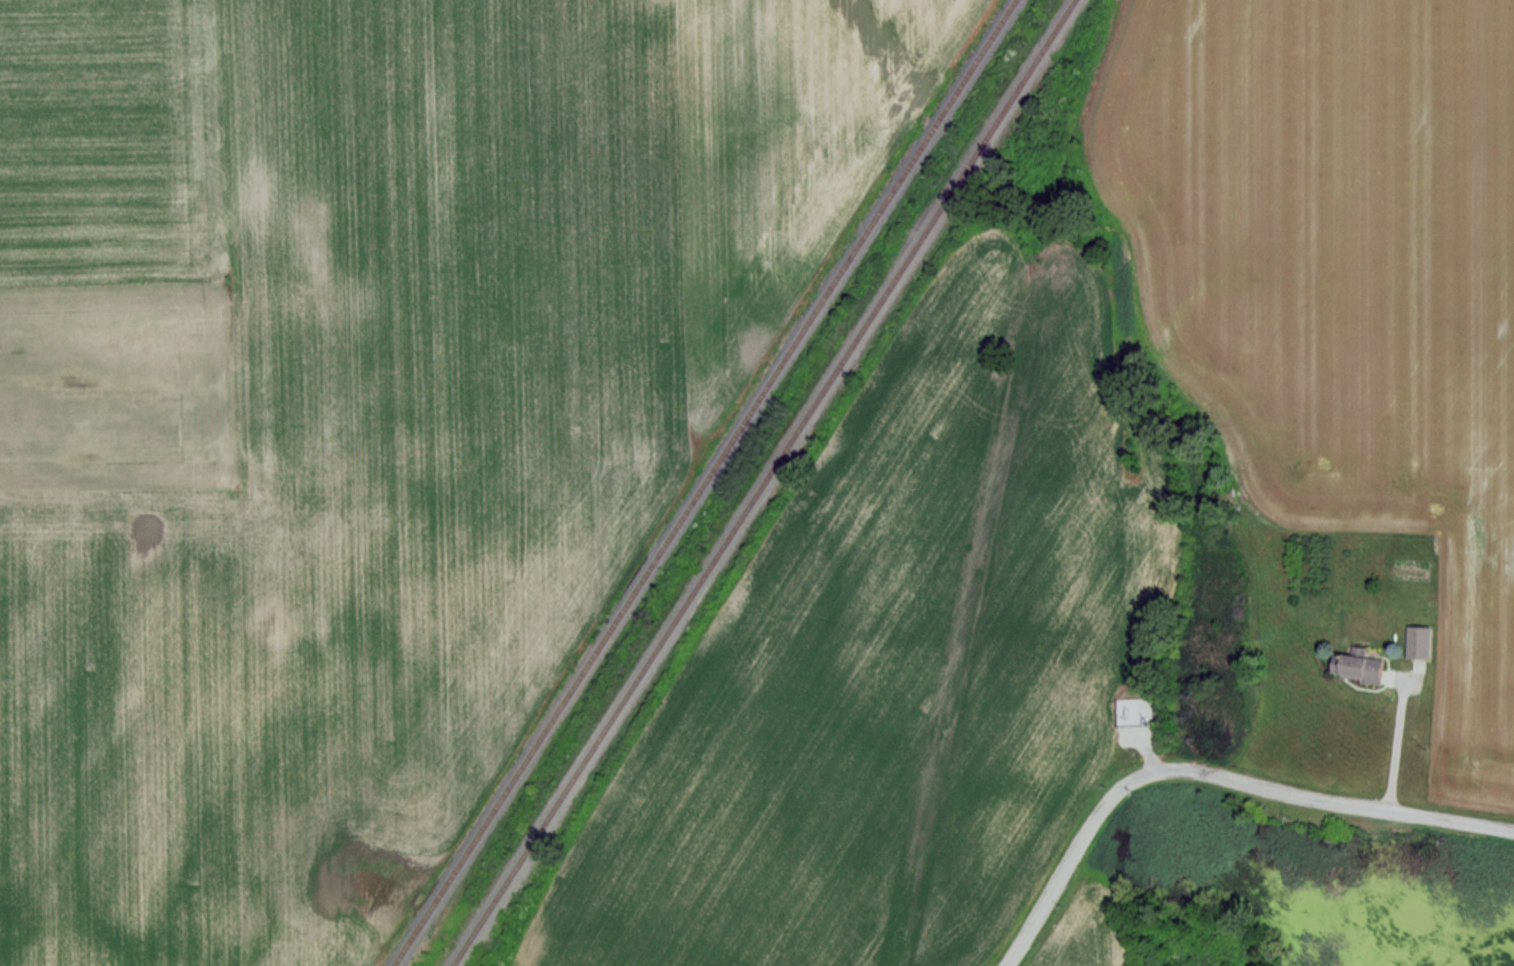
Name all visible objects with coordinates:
crop: (1340, 288)
railway: (704, 483)
railway: (764, 483)
building: (1419, 641)
building: (1359, 665)
road: (1415, 669)
crop: (876, 675)
crop: (270, 693)
road: (1396, 732)
road: (1210, 775)

